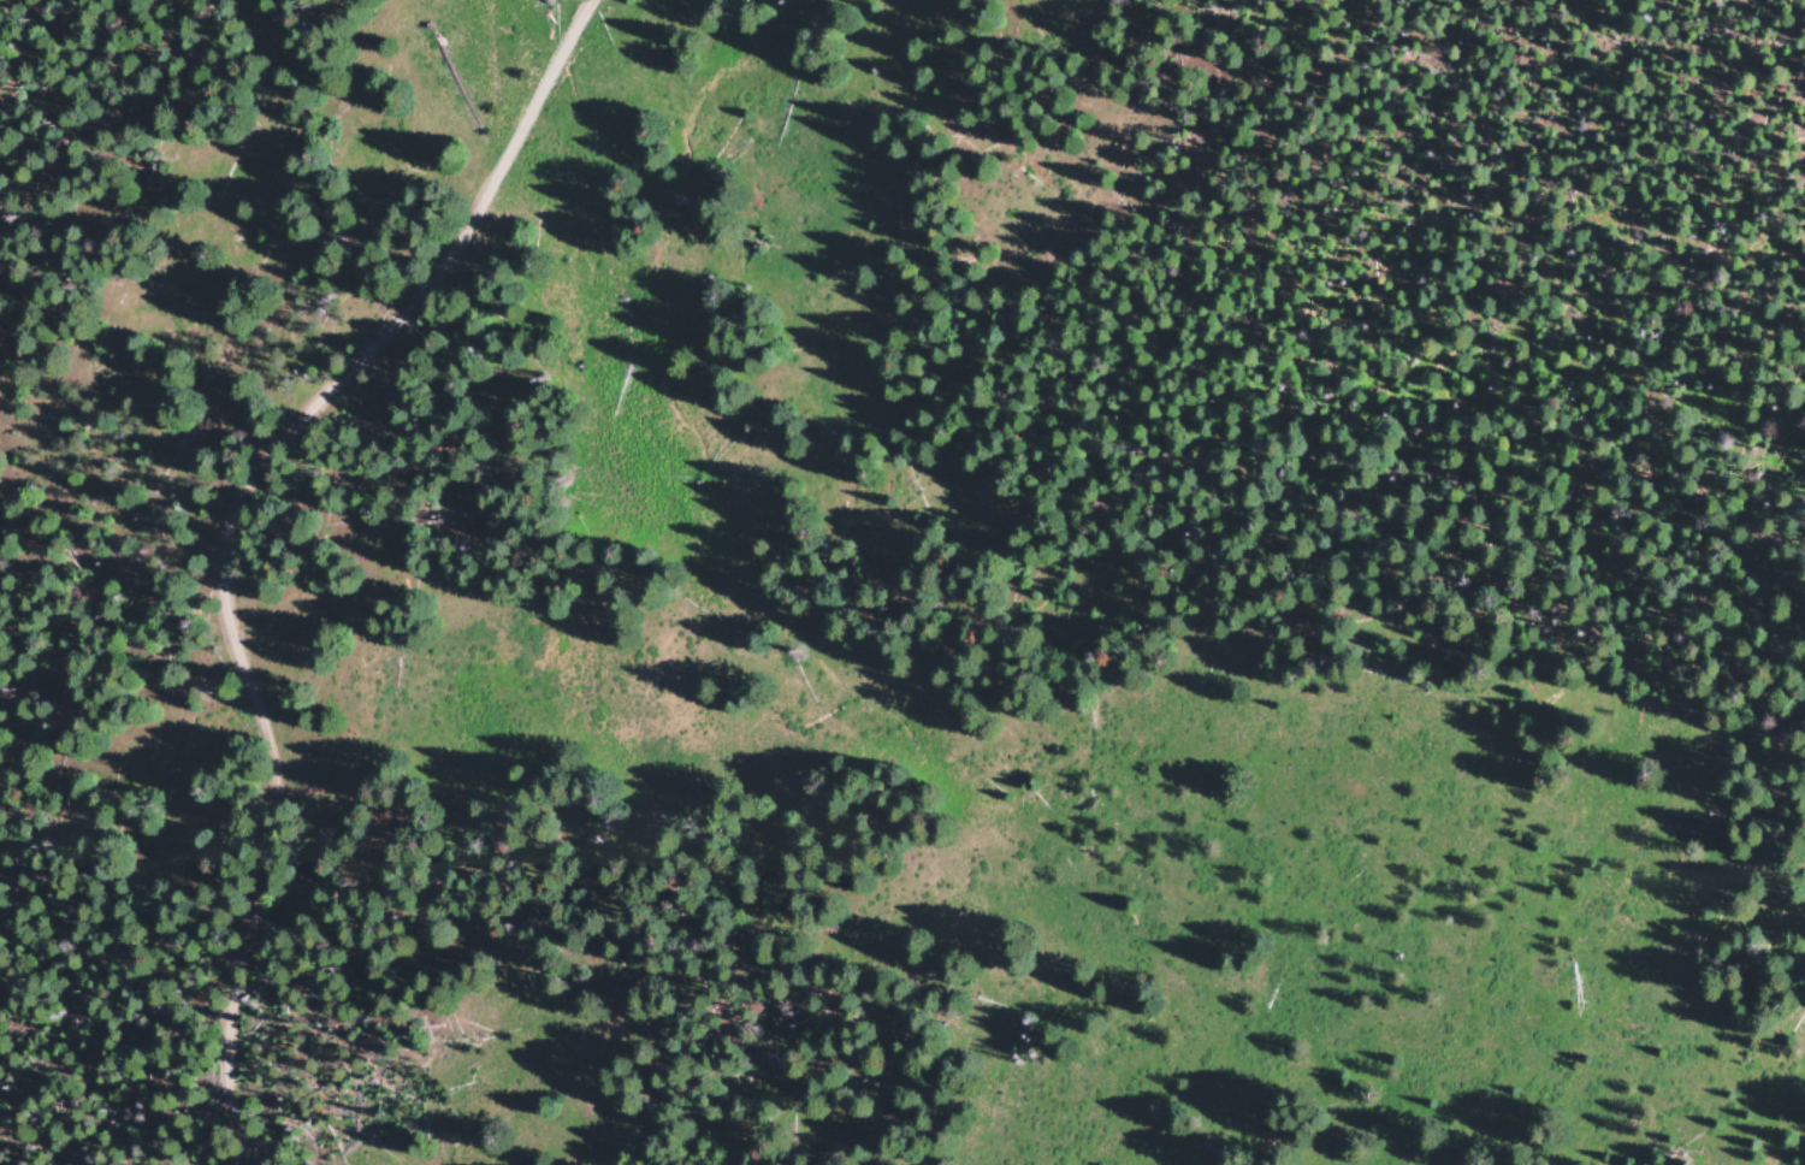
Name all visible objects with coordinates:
road: (250, 532)

